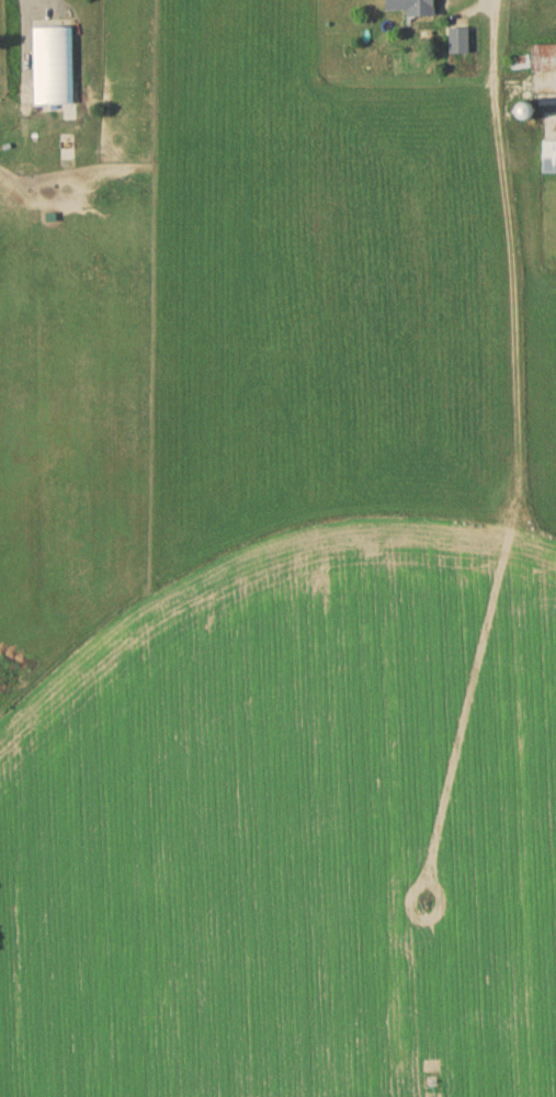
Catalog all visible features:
building: (417, 9)
building: (462, 44)
building: (544, 63)
building: (55, 70)
building: (549, 161)

